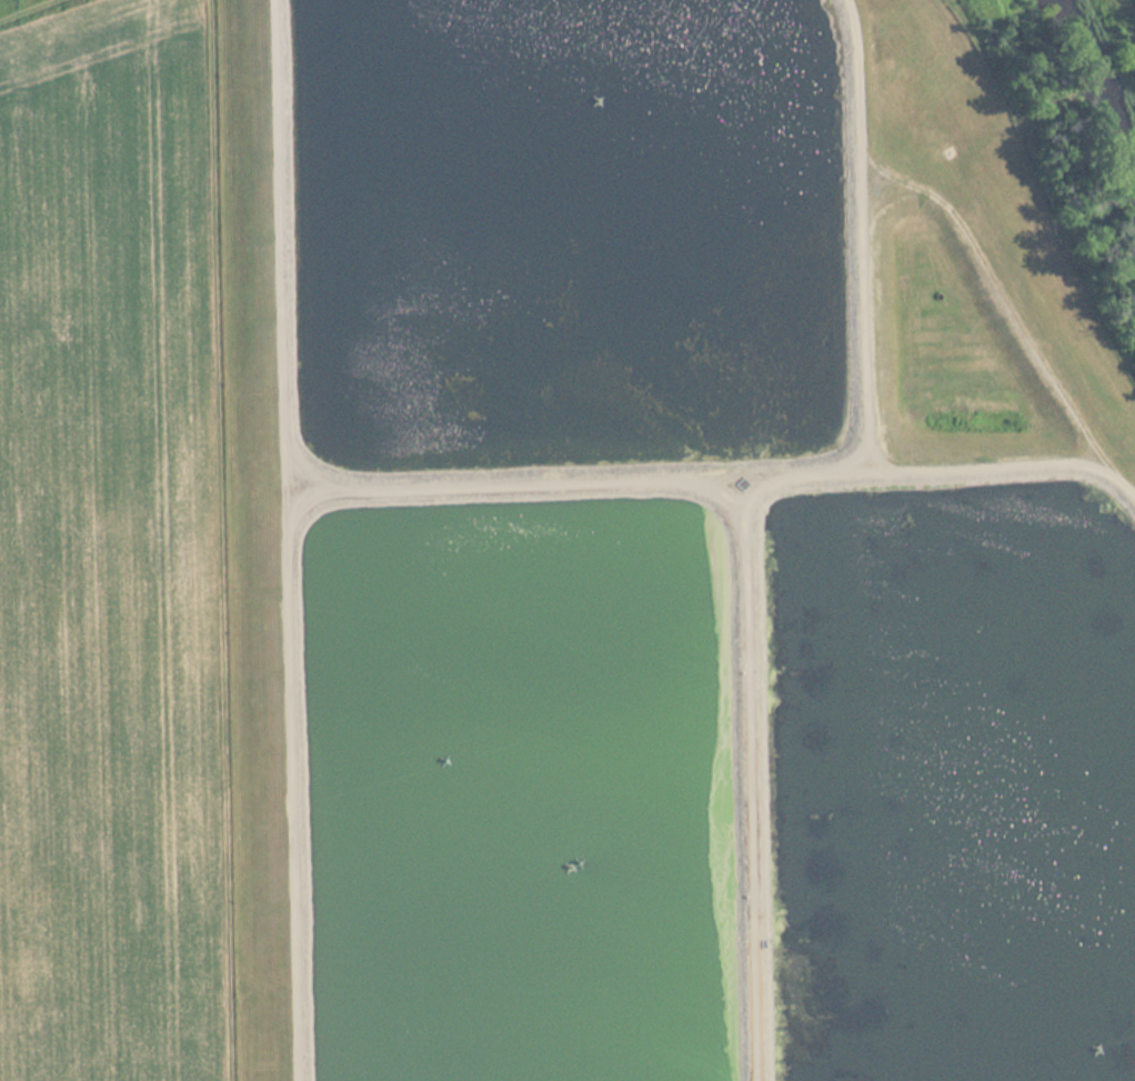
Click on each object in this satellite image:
river: (1102, 91)

